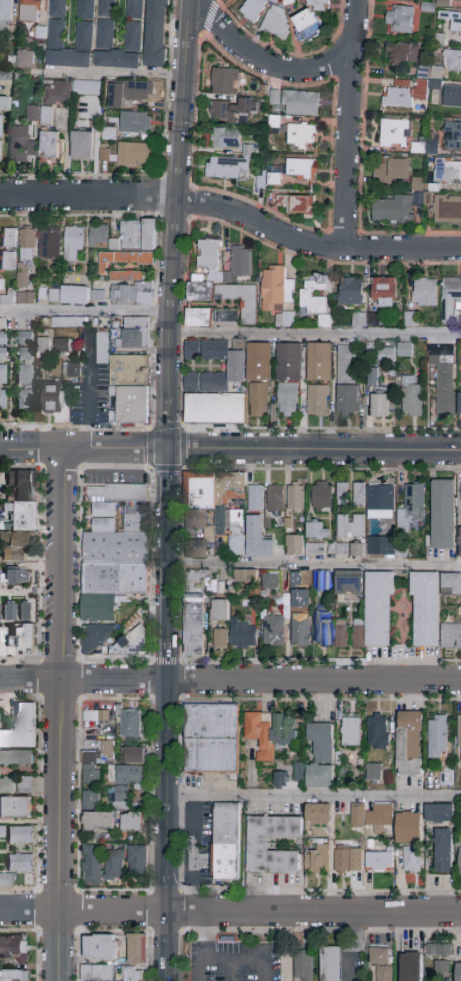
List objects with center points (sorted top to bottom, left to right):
building: (289, 1)
building: (459, 1)
building: (317, 5)
building: (106, 9)
building: (253, 9)
building: (30, 11)
building: (5, 13)
building: (400, 19)
building: (452, 21)
building: (277, 22)
building: (56, 23)
building: (84, 24)
building: (134, 24)
building: (308, 27)
building: (156, 32)
building: (105, 34)
building: (402, 53)
building: (25, 59)
building: (69, 59)
building: (117, 60)
building: (452, 61)
road: (264, 62)
building: (5, 75)
road: (116, 76)
building: (224, 81)
building: (87, 88)
building: (263, 91)
building: (137, 92)
building: (58, 93)
building: (398, 97)
building: (452, 97)
building: (111, 103)
building: (4, 104)
building: (301, 104)
building: (231, 109)
building: (45, 114)
building: (32, 115)
building: (135, 123)
road: (348, 124)
building: (0, 126)
building: (395, 134)
building: (302, 136)
building: (453, 136)
building: (225, 138)
building: (81, 142)
building: (19, 143)
building: (50, 147)
building: (429, 147)
building: (246, 151)
building: (103, 154)
building: (133, 155)
building: (222, 168)
building: (392, 168)
building: (301, 170)
building: (448, 171)
building: (274, 179)
building: (297, 204)
building: (395, 210)
building: (448, 210)
road: (232, 213)
road: (175, 224)
building: (99, 235)
building: (138, 235)
building: (8, 238)
building: (73, 243)
building: (27, 244)
building: (50, 244)
building: (208, 257)
building: (7, 260)
building: (124, 260)
building: (238, 265)
building: (22, 276)
building: (130, 288)
building: (276, 289)
building: (351, 291)
building: (200, 292)
building: (384, 292)
building: (424, 292)
building: (54, 295)
building: (75, 295)
building: (314, 295)
building: (98, 296)
building: (15, 297)
building: (450, 297)
building: (240, 300)
road: (84, 312)
building: (226, 317)
building: (198, 318)
building: (358, 318)
building: (411, 319)
building: (323, 320)
building: (68, 323)
building: (134, 334)
road: (315, 337)
building: (25, 338)
building: (43, 344)
building: (61, 345)
building: (102, 347)
building: (405, 350)
building: (386, 356)
building: (2, 358)
building: (260, 363)
building: (289, 363)
building: (319, 363)
building: (129, 365)
building: (24, 366)
building: (371, 375)
building: (443, 377)
building: (347, 380)
building: (215, 386)
building: (412, 397)
building: (3, 399)
building: (24, 399)
building: (259, 399)
building: (287, 399)
building: (54, 400)
building: (318, 401)
building: (381, 403)
building: (460, 404)
building: (131, 405)
road: (86, 406)
road: (32, 447)
road: (115, 449)
road: (314, 449)
building: (342, 495)
building: (322, 496)
building: (358, 496)
building: (380, 497)
building: (275, 498)
building: (296, 498)
building: (22, 500)
building: (256, 500)
building: (411, 507)
building: (215, 509)
building: (443, 514)
building: (350, 527)
building: (318, 531)
building: (257, 539)
building: (18, 540)
building: (460, 542)
building: (295, 545)
building: (381, 546)
building: (114, 549)
building: (315, 549)
building: (339, 550)
building: (356, 550)
building: (11, 553)
road: (313, 566)
building: (17, 576)
building: (246, 576)
building: (295, 579)
building: (345, 579)
building: (322, 580)
building: (271, 581)
building: (452, 585)
building: (289, 600)
building: (379, 609)
building: (426, 609)
building: (220, 610)
building: (25, 611)
building: (9, 612)
building: (193, 625)
building: (323, 628)
building: (300, 629)
building: (273, 631)
building: (341, 634)
building: (358, 634)
building: (243, 635)
building: (451, 636)
building: (95, 638)
building: (220, 638)
building: (18, 641)
building: (132, 642)
road: (230, 681)
road: (58, 714)
road: (165, 714)
building: (96, 716)
building: (131, 725)
building: (22, 729)
building: (270, 732)
building: (351, 732)
building: (377, 732)
building: (437, 734)
building: (212, 739)
building: (460, 739)
building: (410, 744)
building: (133, 756)
building: (321, 756)
building: (16, 758)
building: (96, 762)
building: (374, 773)
building: (388, 776)
building: (299, 777)
building: (447, 778)
building: (281, 779)
building: (127, 781)
building: (7, 785)
building: (24, 785)
road: (313, 797)
building: (90, 798)
building: (15, 808)
building: (318, 814)
building: (440, 814)
road: (189, 816)
building: (371, 816)
building: (99, 822)
building: (132, 822)
building: (408, 828)
building: (0, 830)
building: (20, 836)
building: (226, 842)
building: (257, 845)
building: (443, 851)
building: (460, 856)
building: (138, 860)
building: (412, 860)
building: (317, 861)
building: (348, 861)
building: (20, 862)
building: (379, 862)
building: (93, 865)
building: (114, 865)
building: (7, 879)
road: (230, 912)
road: (207, 935)
building: (100, 948)
building: (14, 949)
building: (137, 949)
road: (206, 958)
building: (440, 958)
parking lot: (235, 962)
road: (256, 962)
building: (380, 963)
building: (331, 964)
building: (304, 967)
building: (411, 967)
road: (231, 972)
building: (459, 972)
building: (96, 973)
building: (130, 974)
building: (13, 976)

